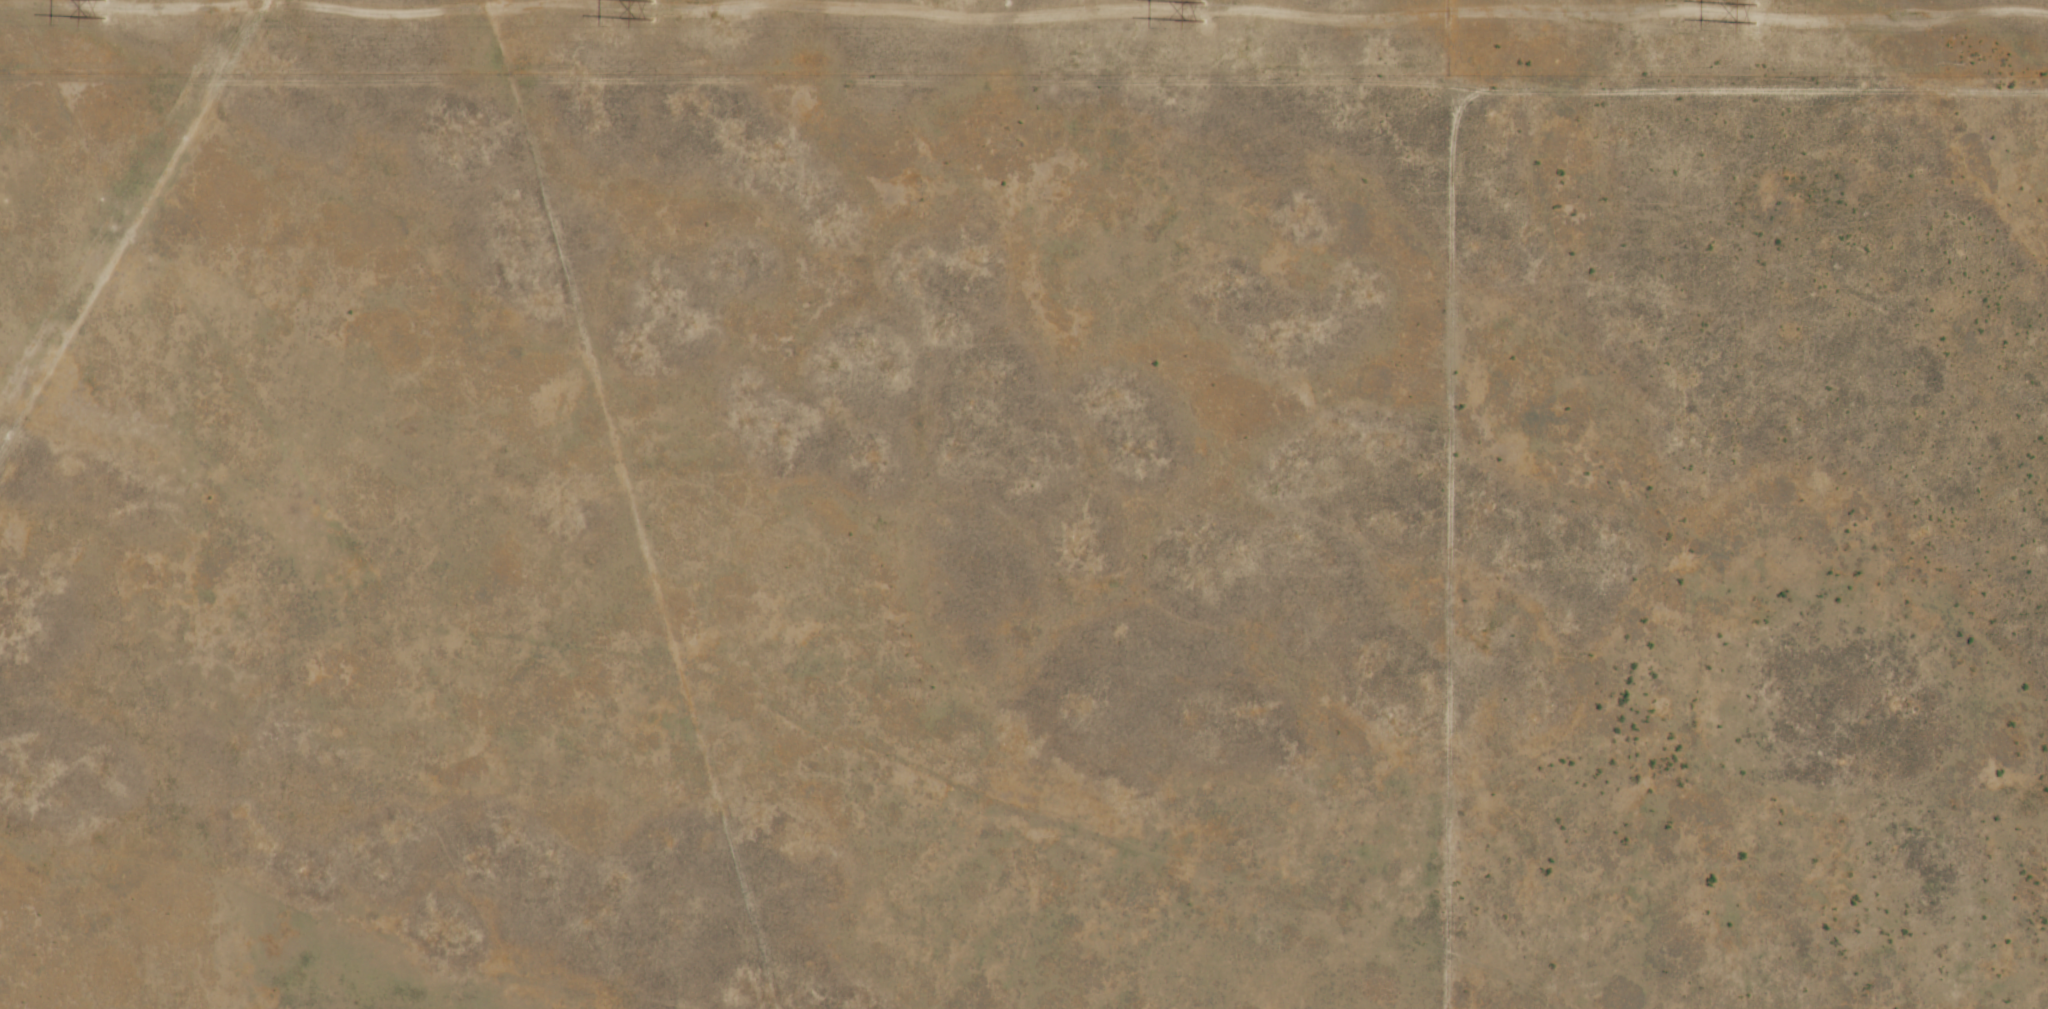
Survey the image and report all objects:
power tower: (1198, 0)
power tower: (97, 1)
power tower: (1750, 2)
road: (1381, 245)

